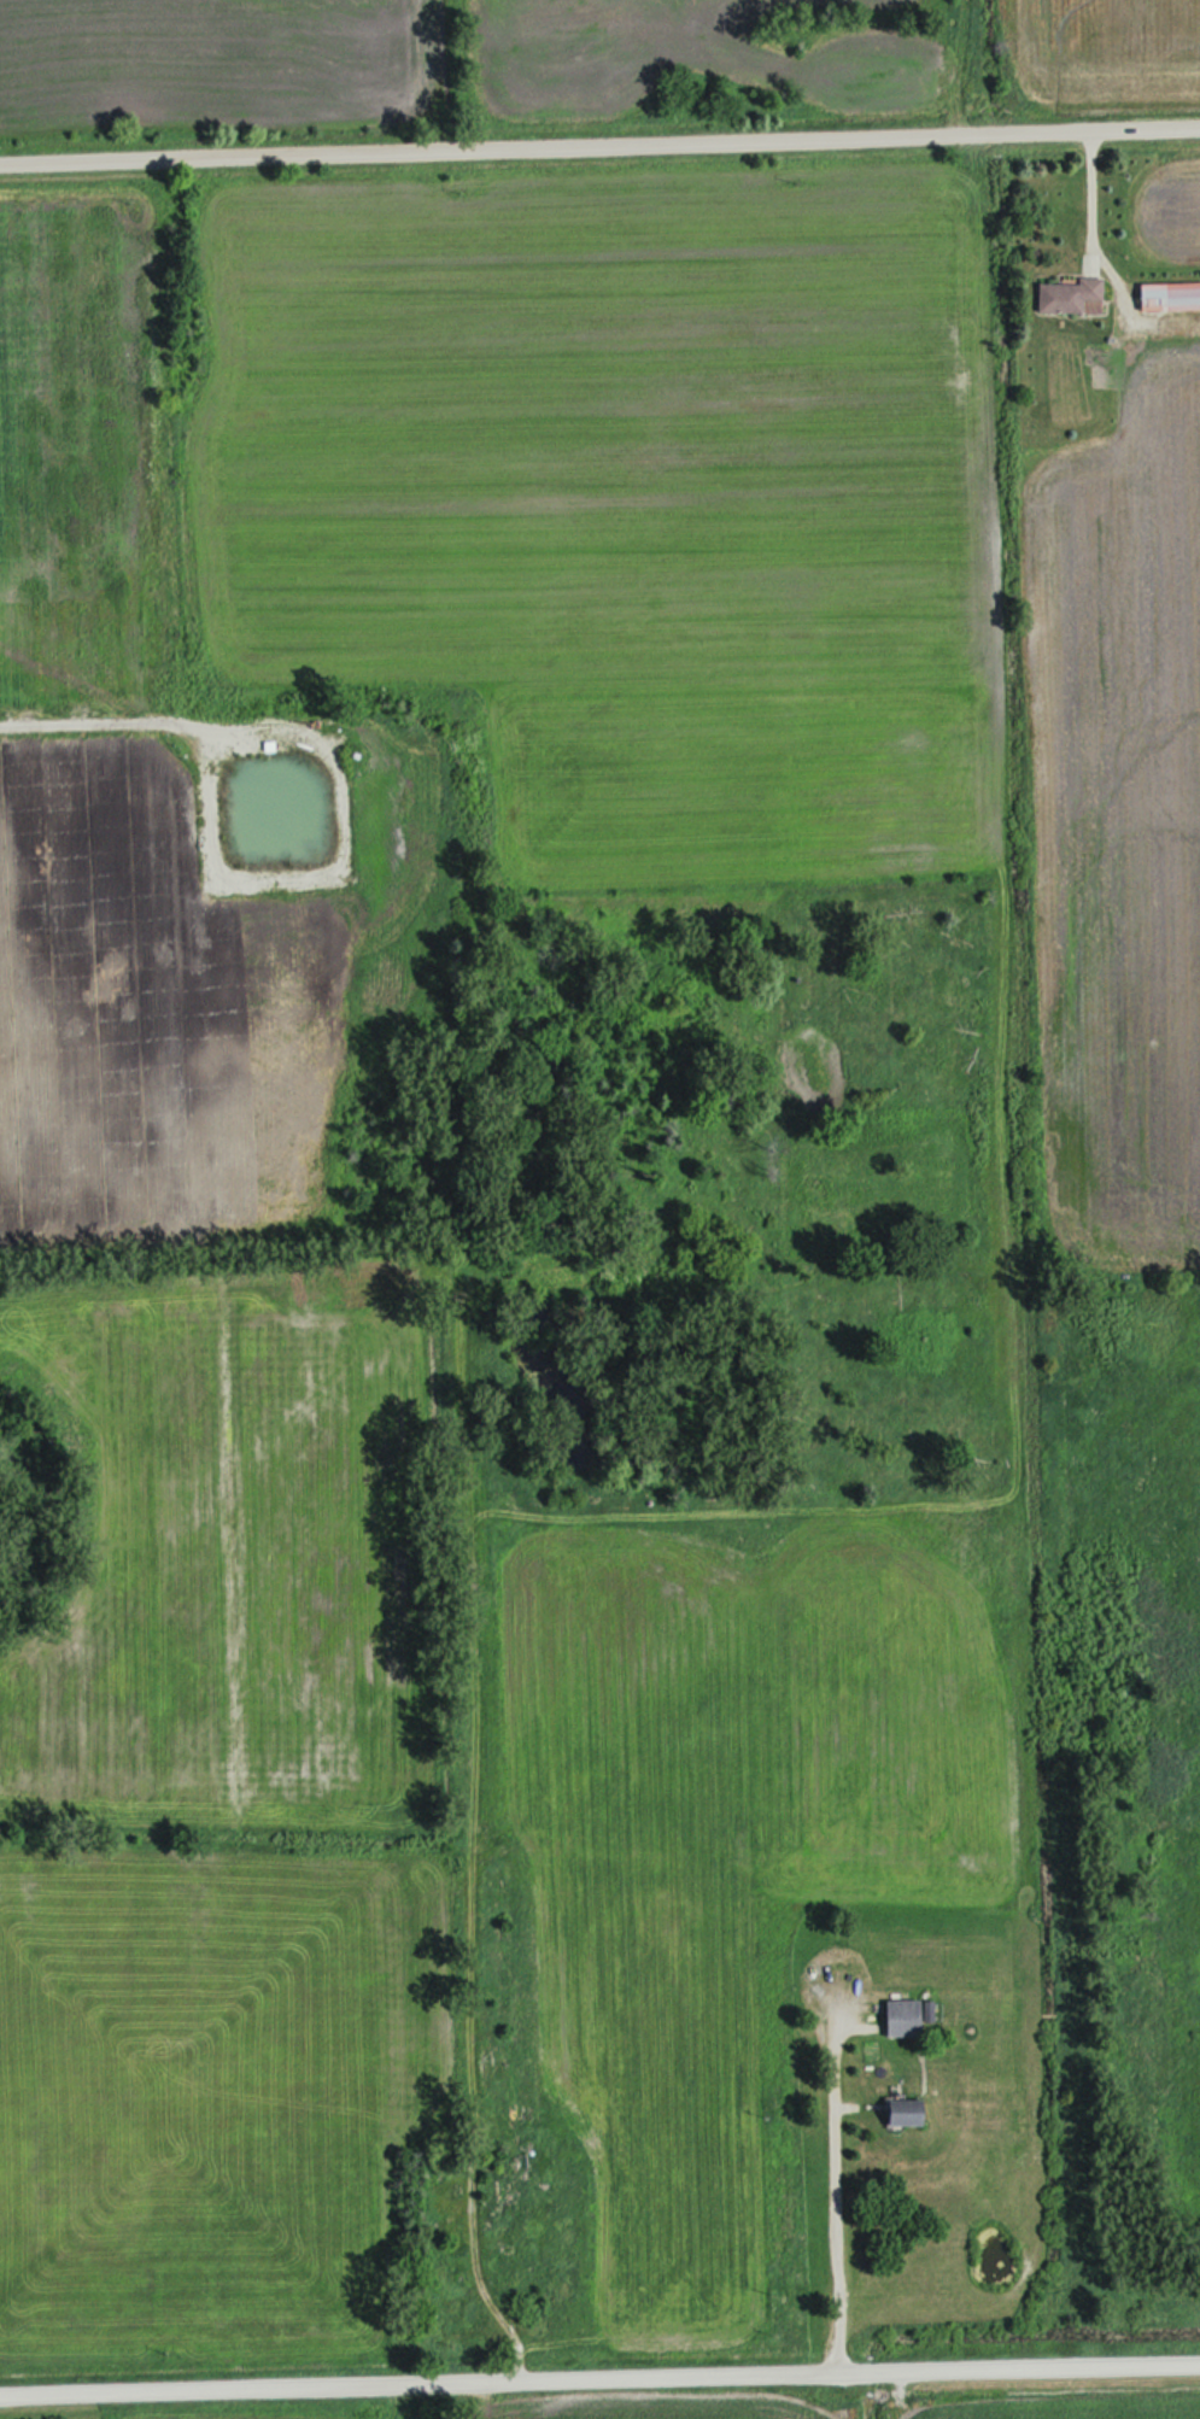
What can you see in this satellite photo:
road: (599, 142)
road: (1099, 215)
building: (1072, 295)
building: (1171, 295)
building: (907, 2019)
building: (911, 2113)
building: (508, 2183)
road: (838, 2192)
road: (599, 2373)

